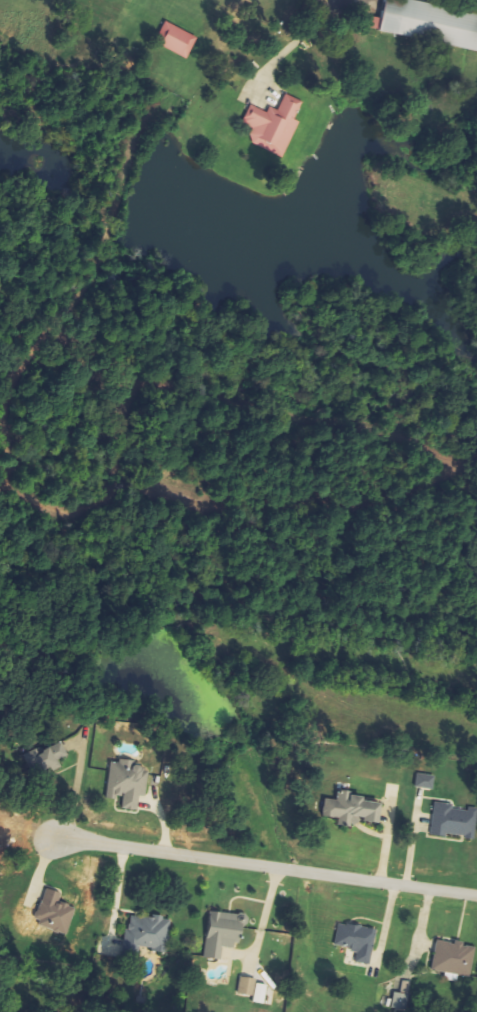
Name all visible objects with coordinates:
road: (312, 8)
building: (428, 23)
road: (301, 37)
building: (173, 39)
building: (271, 124)
road: (430, 448)
building: (43, 759)
building: (427, 781)
building: (129, 783)
building: (357, 808)
building: (451, 820)
road: (267, 865)
building: (55, 911)
building: (221, 933)
building: (143, 934)
building: (354, 940)
building: (451, 957)
building: (244, 986)
building: (262, 993)
building: (404, 996)

